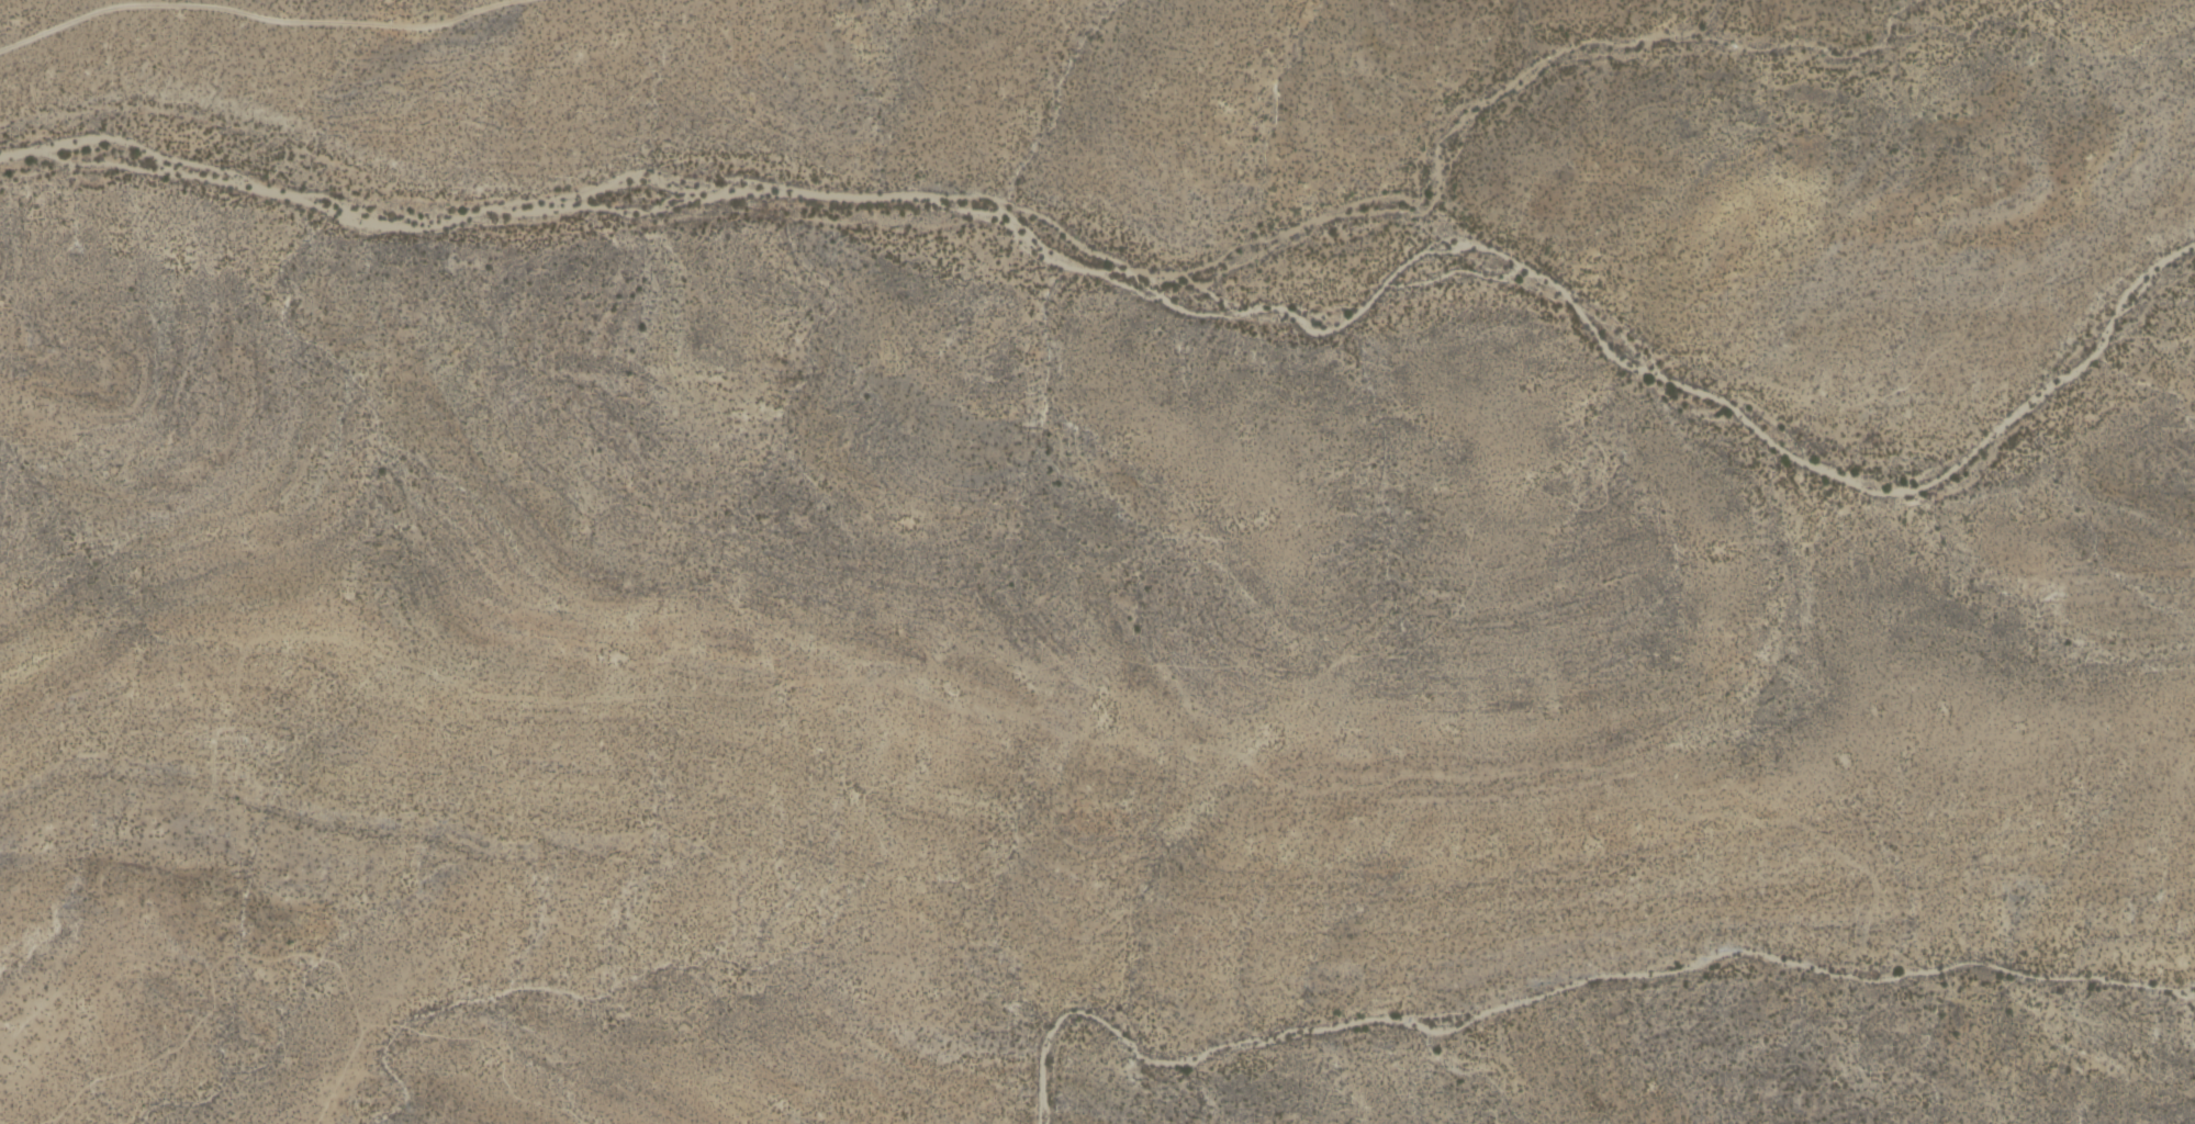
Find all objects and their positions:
road: (250, 965)

